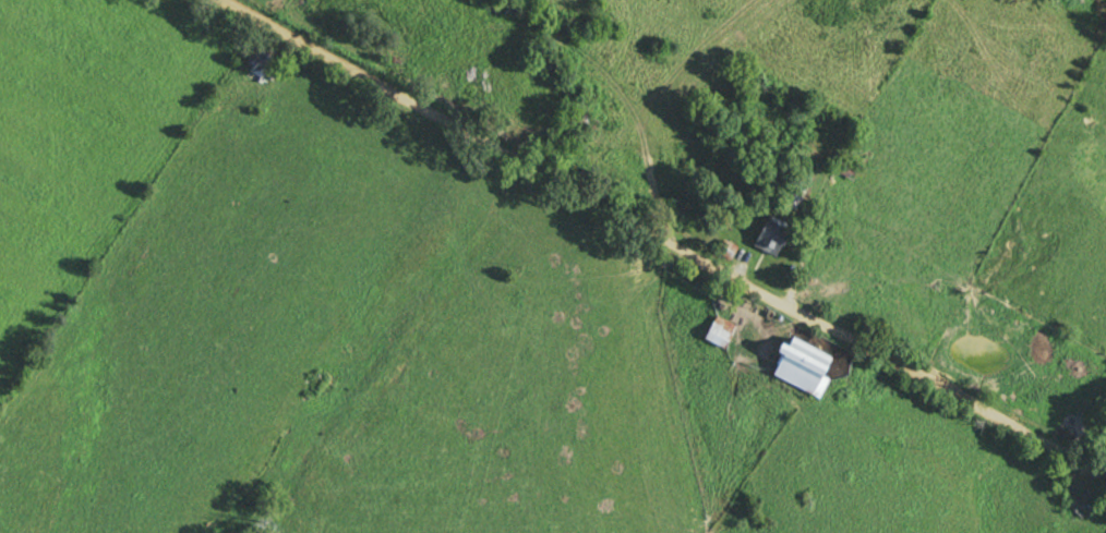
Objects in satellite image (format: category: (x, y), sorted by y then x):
building: (586, 122)
building: (850, 169)
building: (776, 235)
road: (662, 239)
building: (722, 331)
building: (1087, 492)

